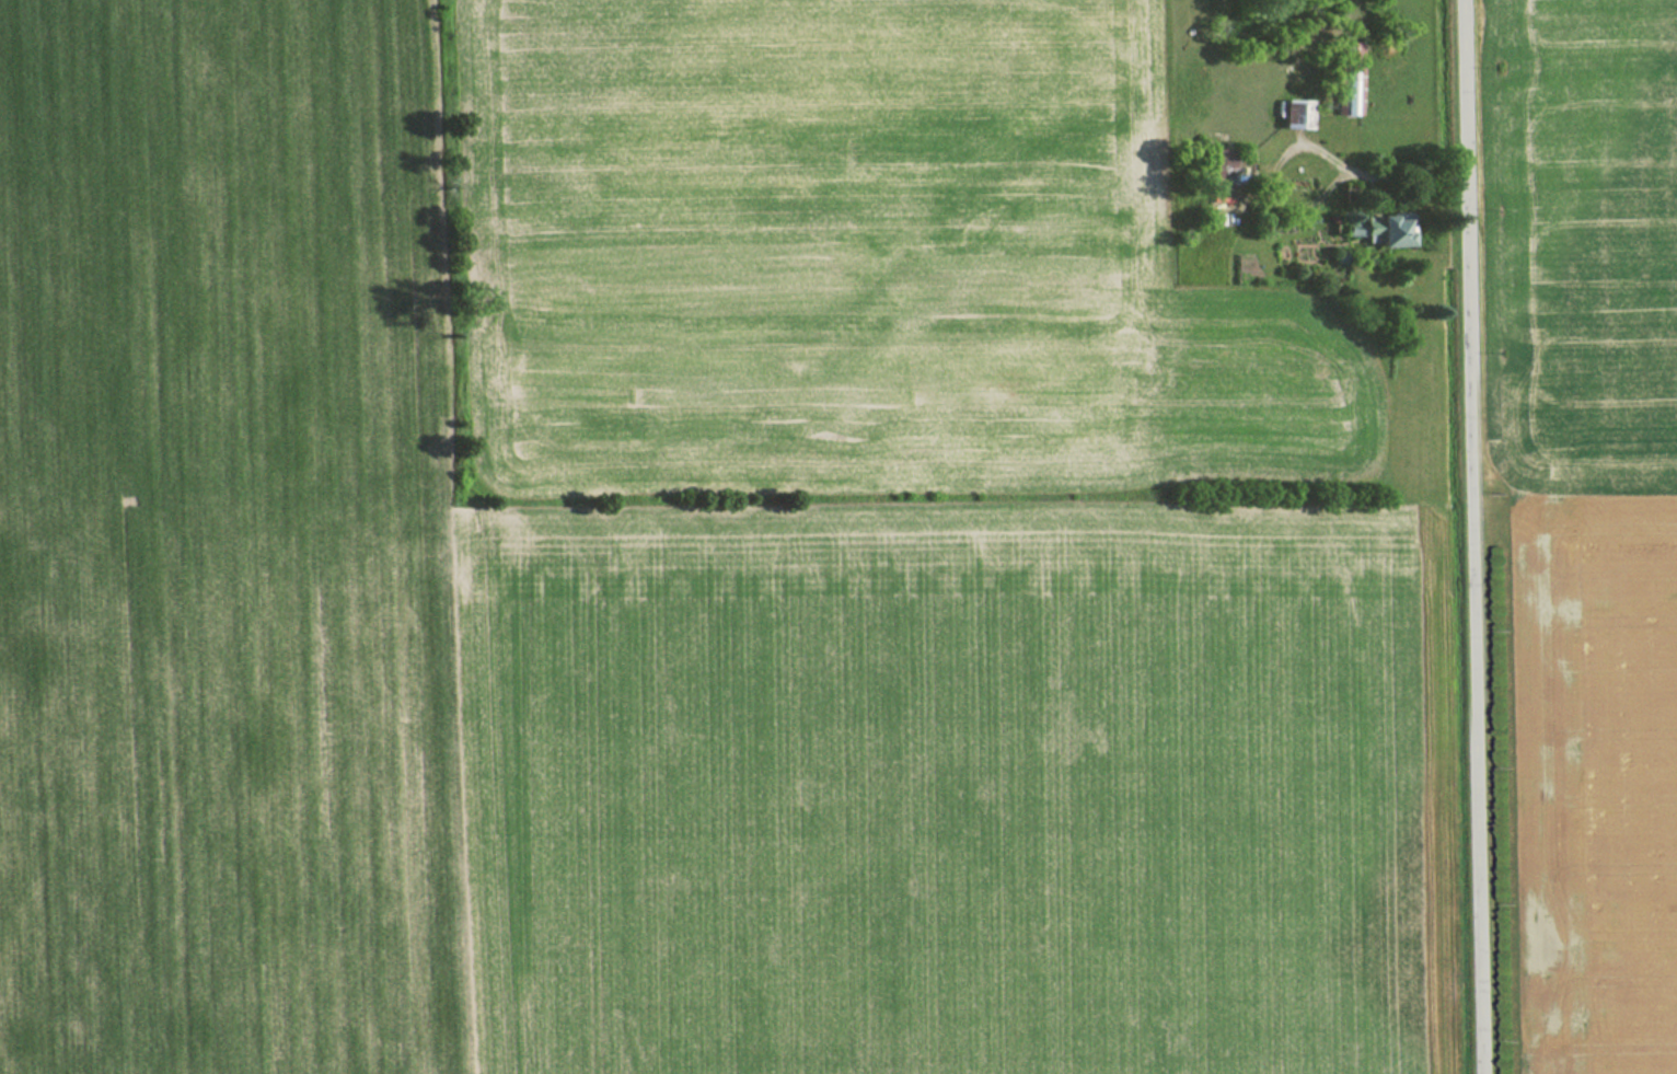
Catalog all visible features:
building: (1345, 80)
building: (1293, 115)
building: (1378, 230)
crop: (869, 250)
crop: (1586, 529)
road: (1476, 536)
crop: (216, 544)
crop: (923, 790)

